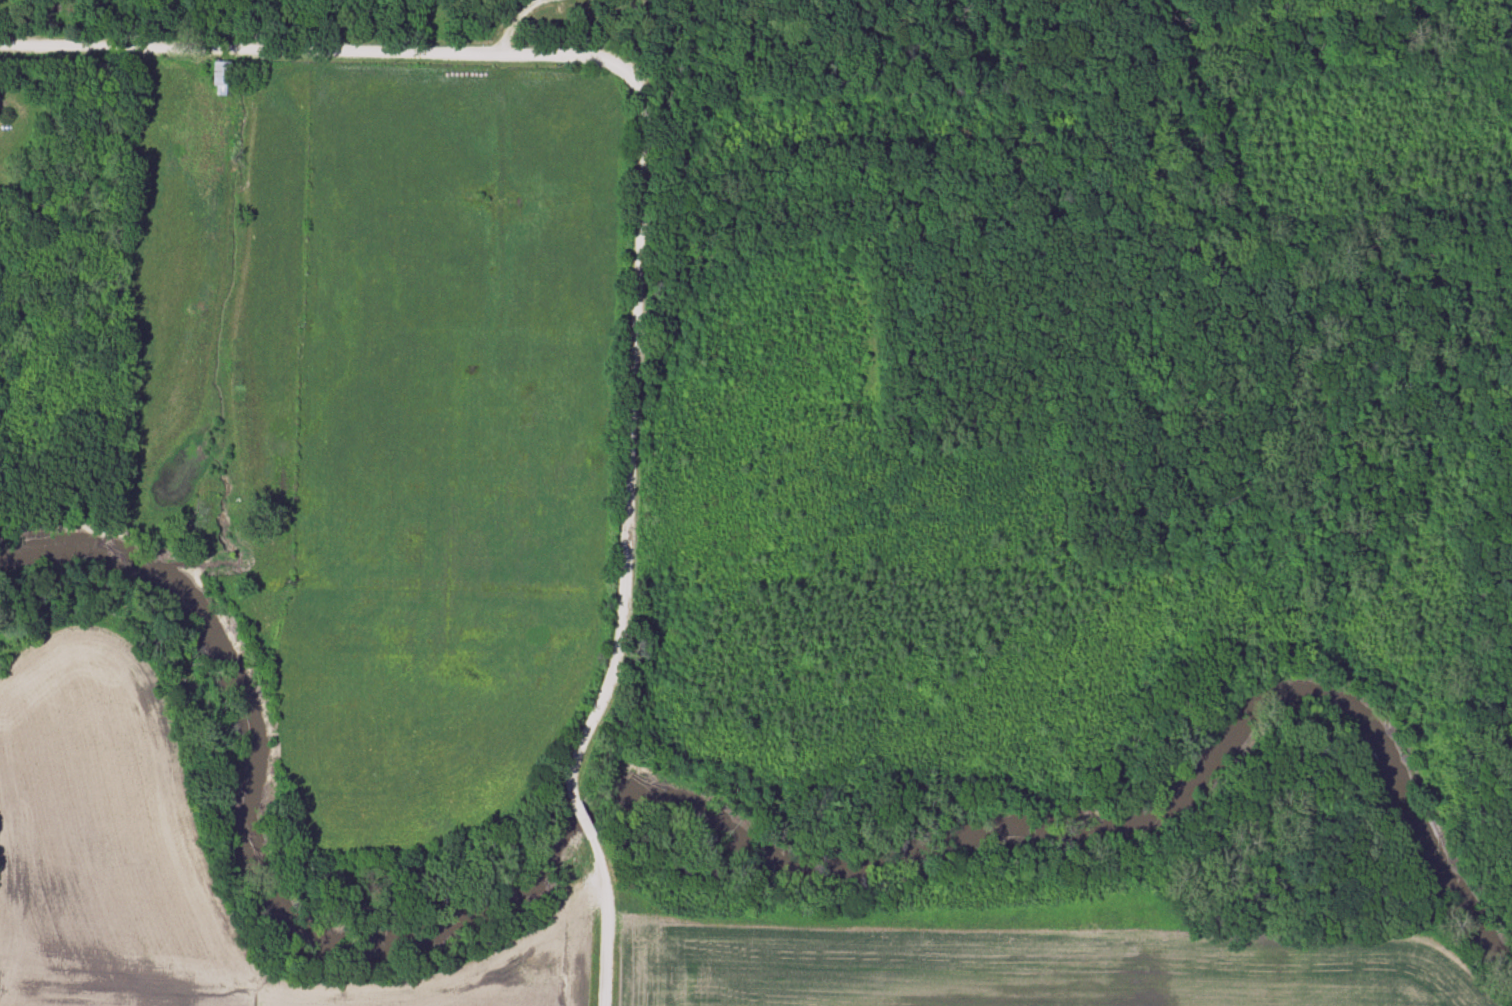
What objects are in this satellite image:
road: (316, 58)
building: (221, 79)
road: (632, 548)
river: (710, 811)

